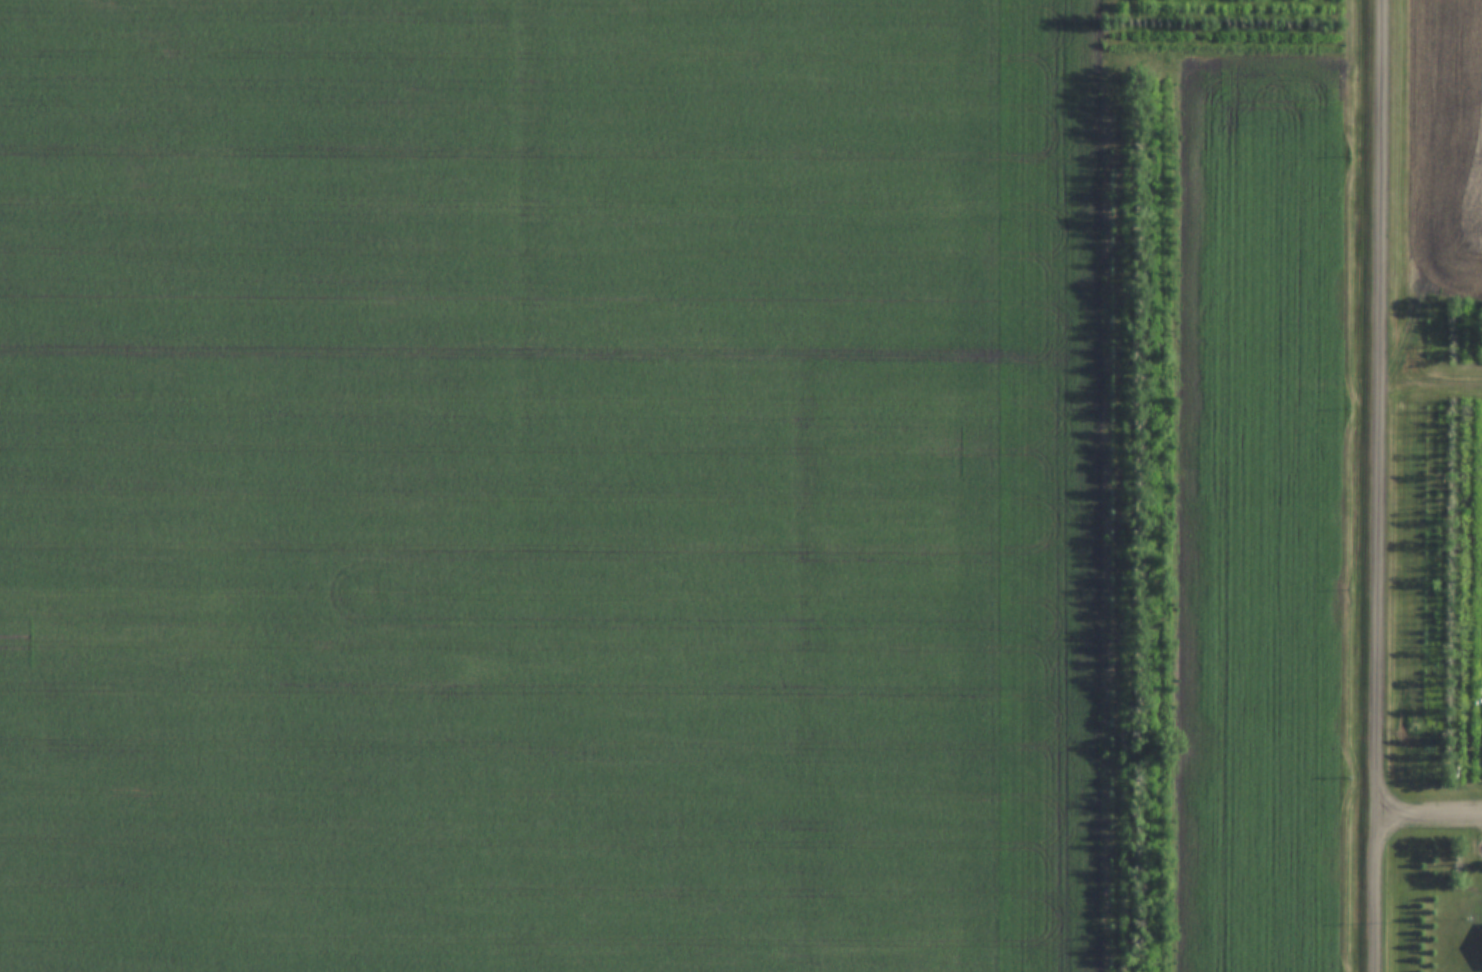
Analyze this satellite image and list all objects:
road: (1382, 486)
road: (1431, 814)

